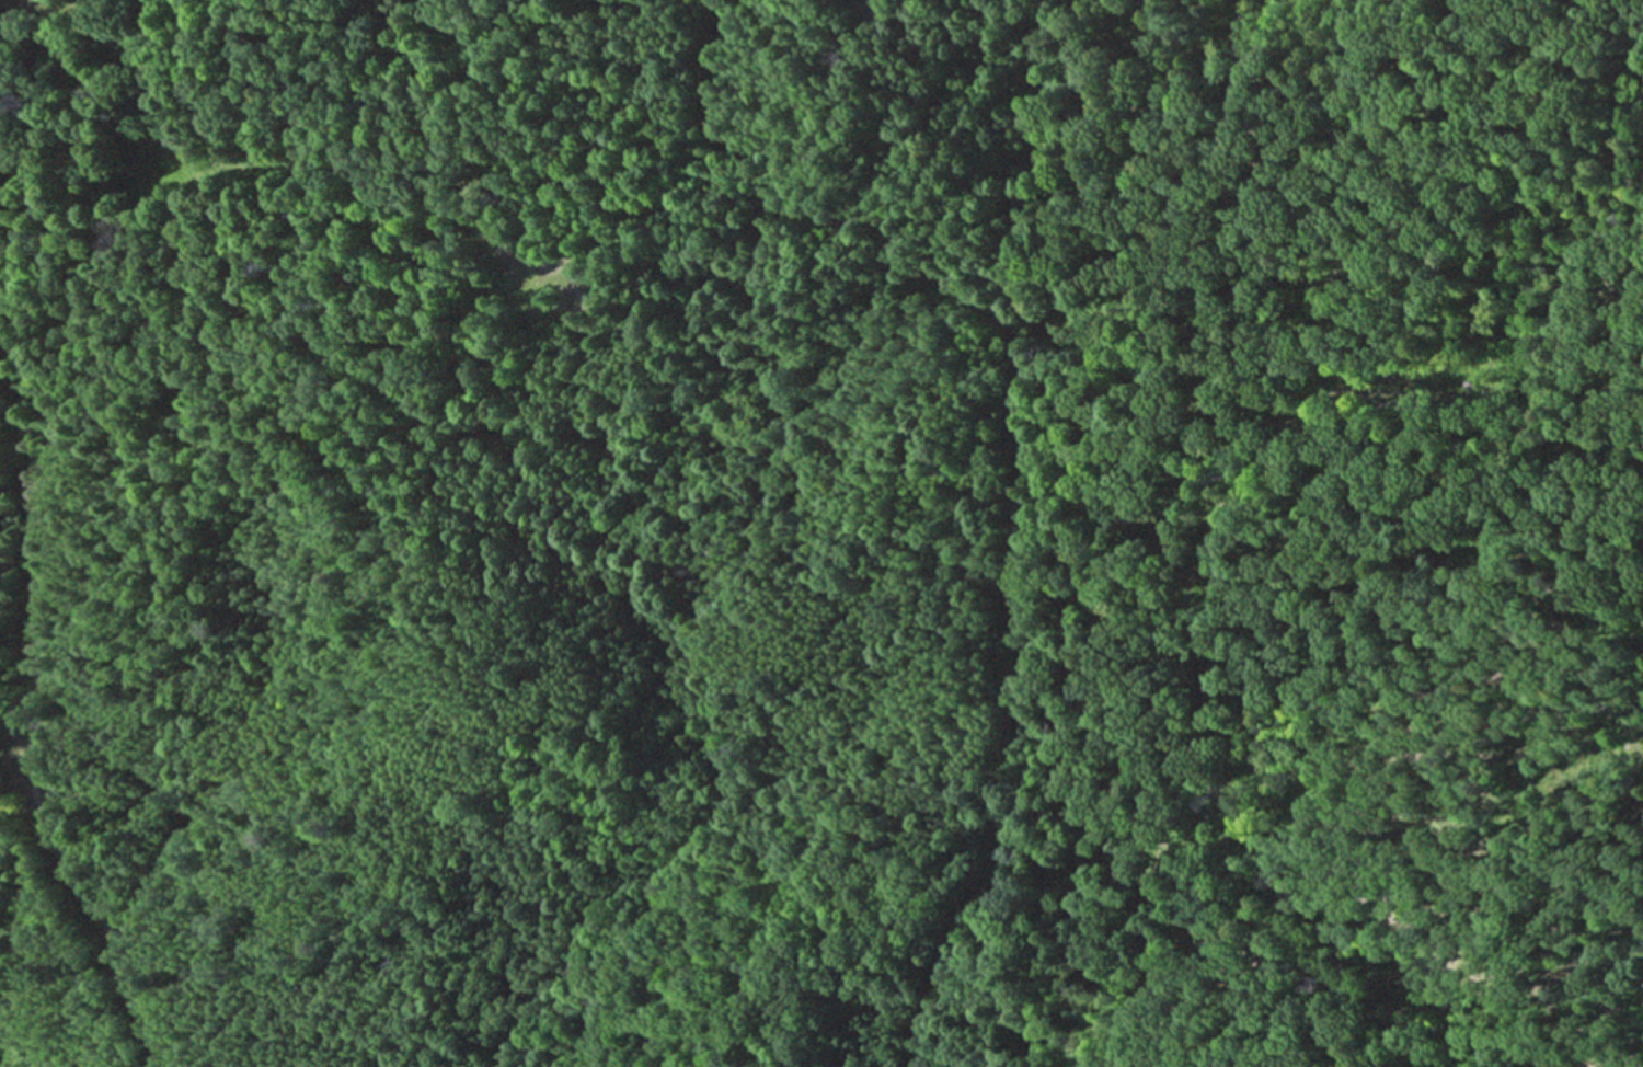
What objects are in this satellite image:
road: (21, 393)
road: (81, 894)

